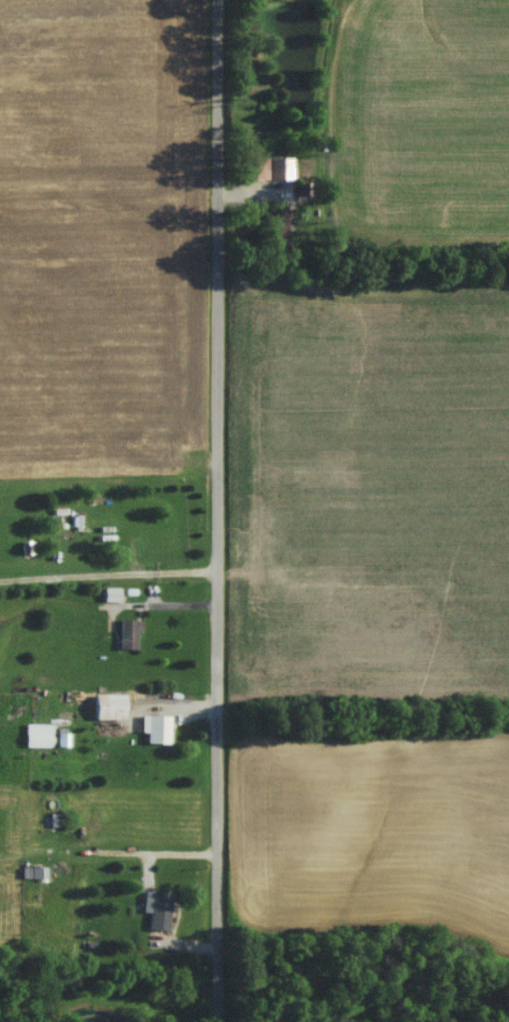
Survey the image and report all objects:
building: (252, 171)
building: (274, 230)
road: (218, 511)
building: (95, 526)
road: (108, 577)
building: (106, 599)
building: (125, 639)
building: (154, 734)
road: (132, 850)
building: (33, 877)
building: (155, 916)

